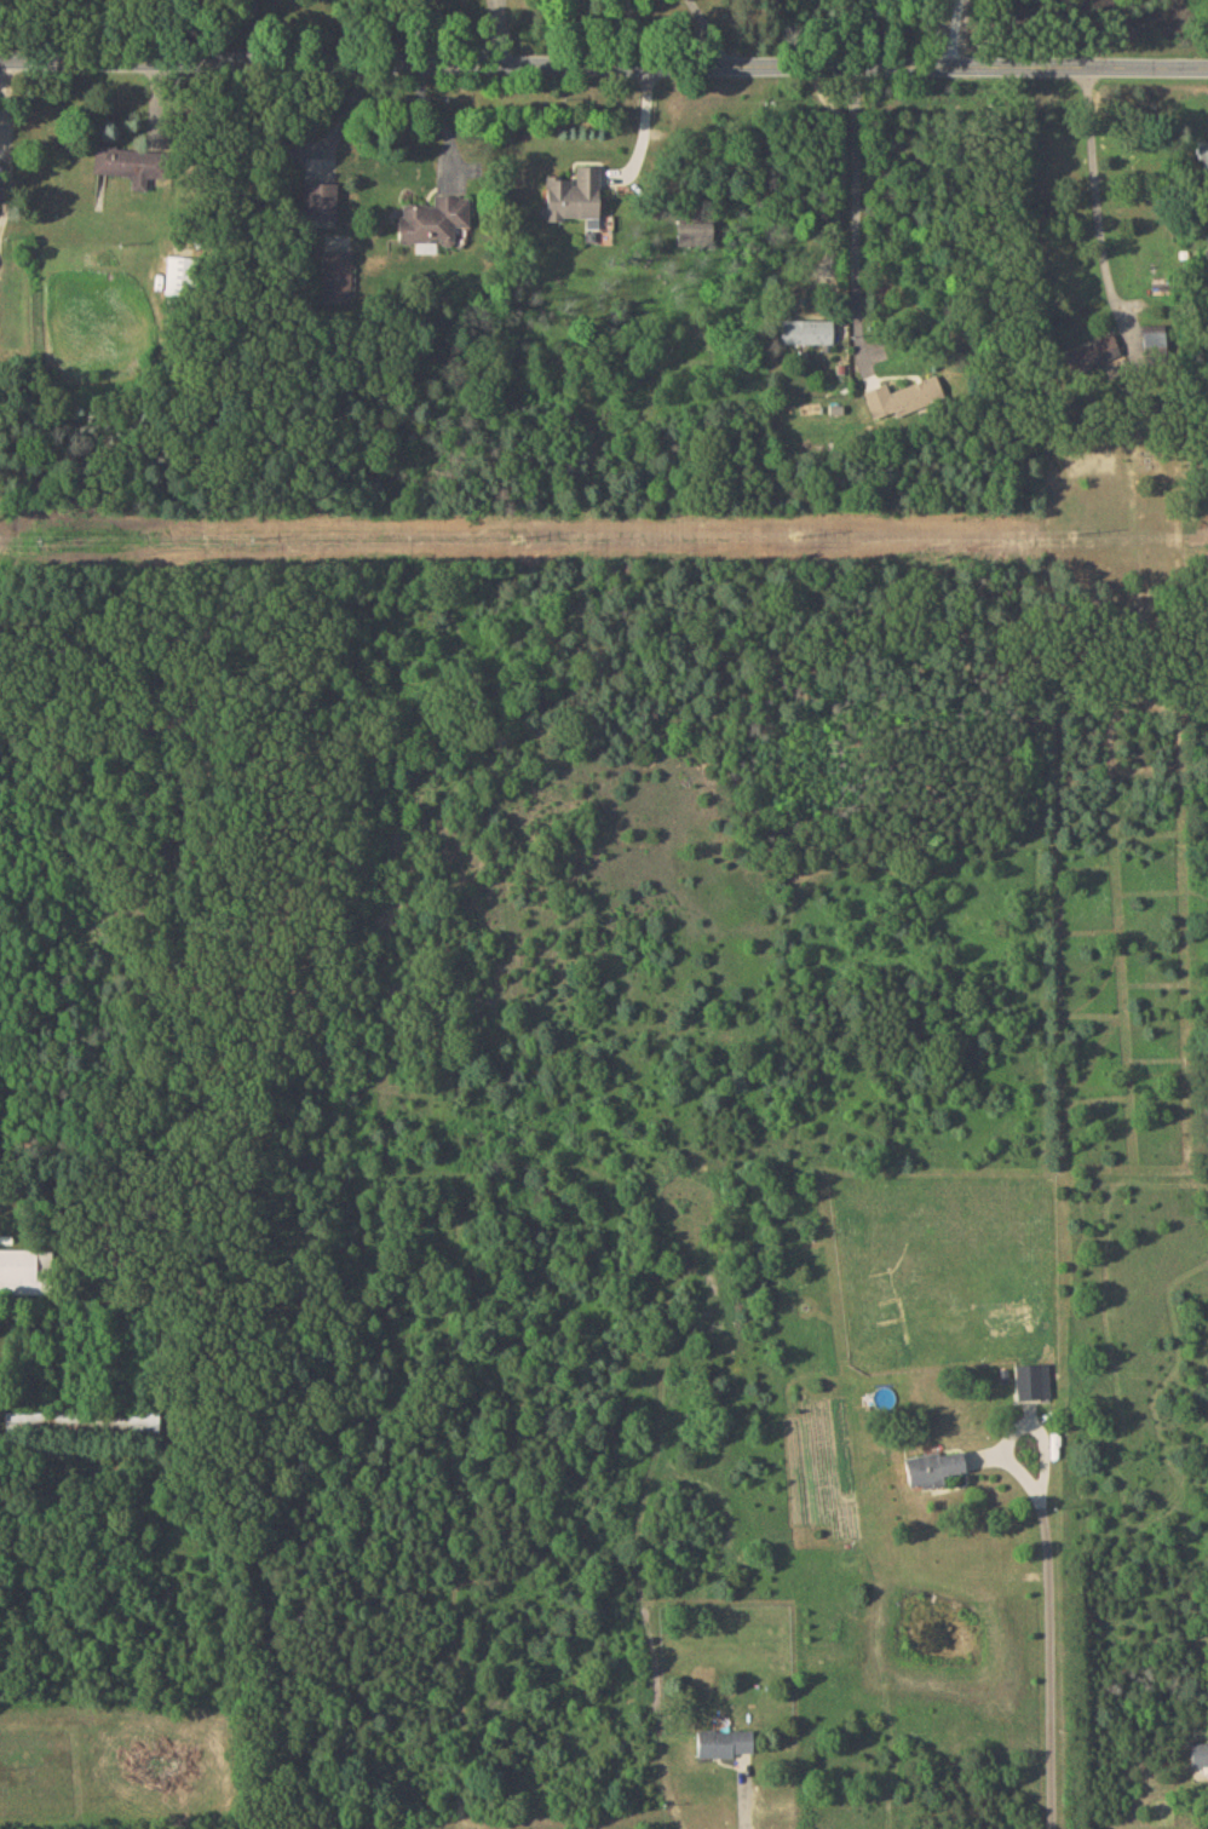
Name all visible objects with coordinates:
road: (707, 30)
road: (626, 33)
road: (954, 33)
road: (604, 64)
road: (438, 121)
building: (1202, 153)
building: (125, 161)
building: (0, 188)
building: (574, 195)
building: (318, 200)
road: (1095, 201)
road: (855, 209)
building: (433, 218)
building: (694, 232)
building: (335, 276)
building: (805, 330)
building: (1091, 350)
building: (903, 396)
building: (24, 1270)
building: (1031, 1380)
road: (1019, 1427)
building: (932, 1467)
road: (1048, 1661)
building: (724, 1742)
building: (1198, 1753)
road: (742, 1812)

